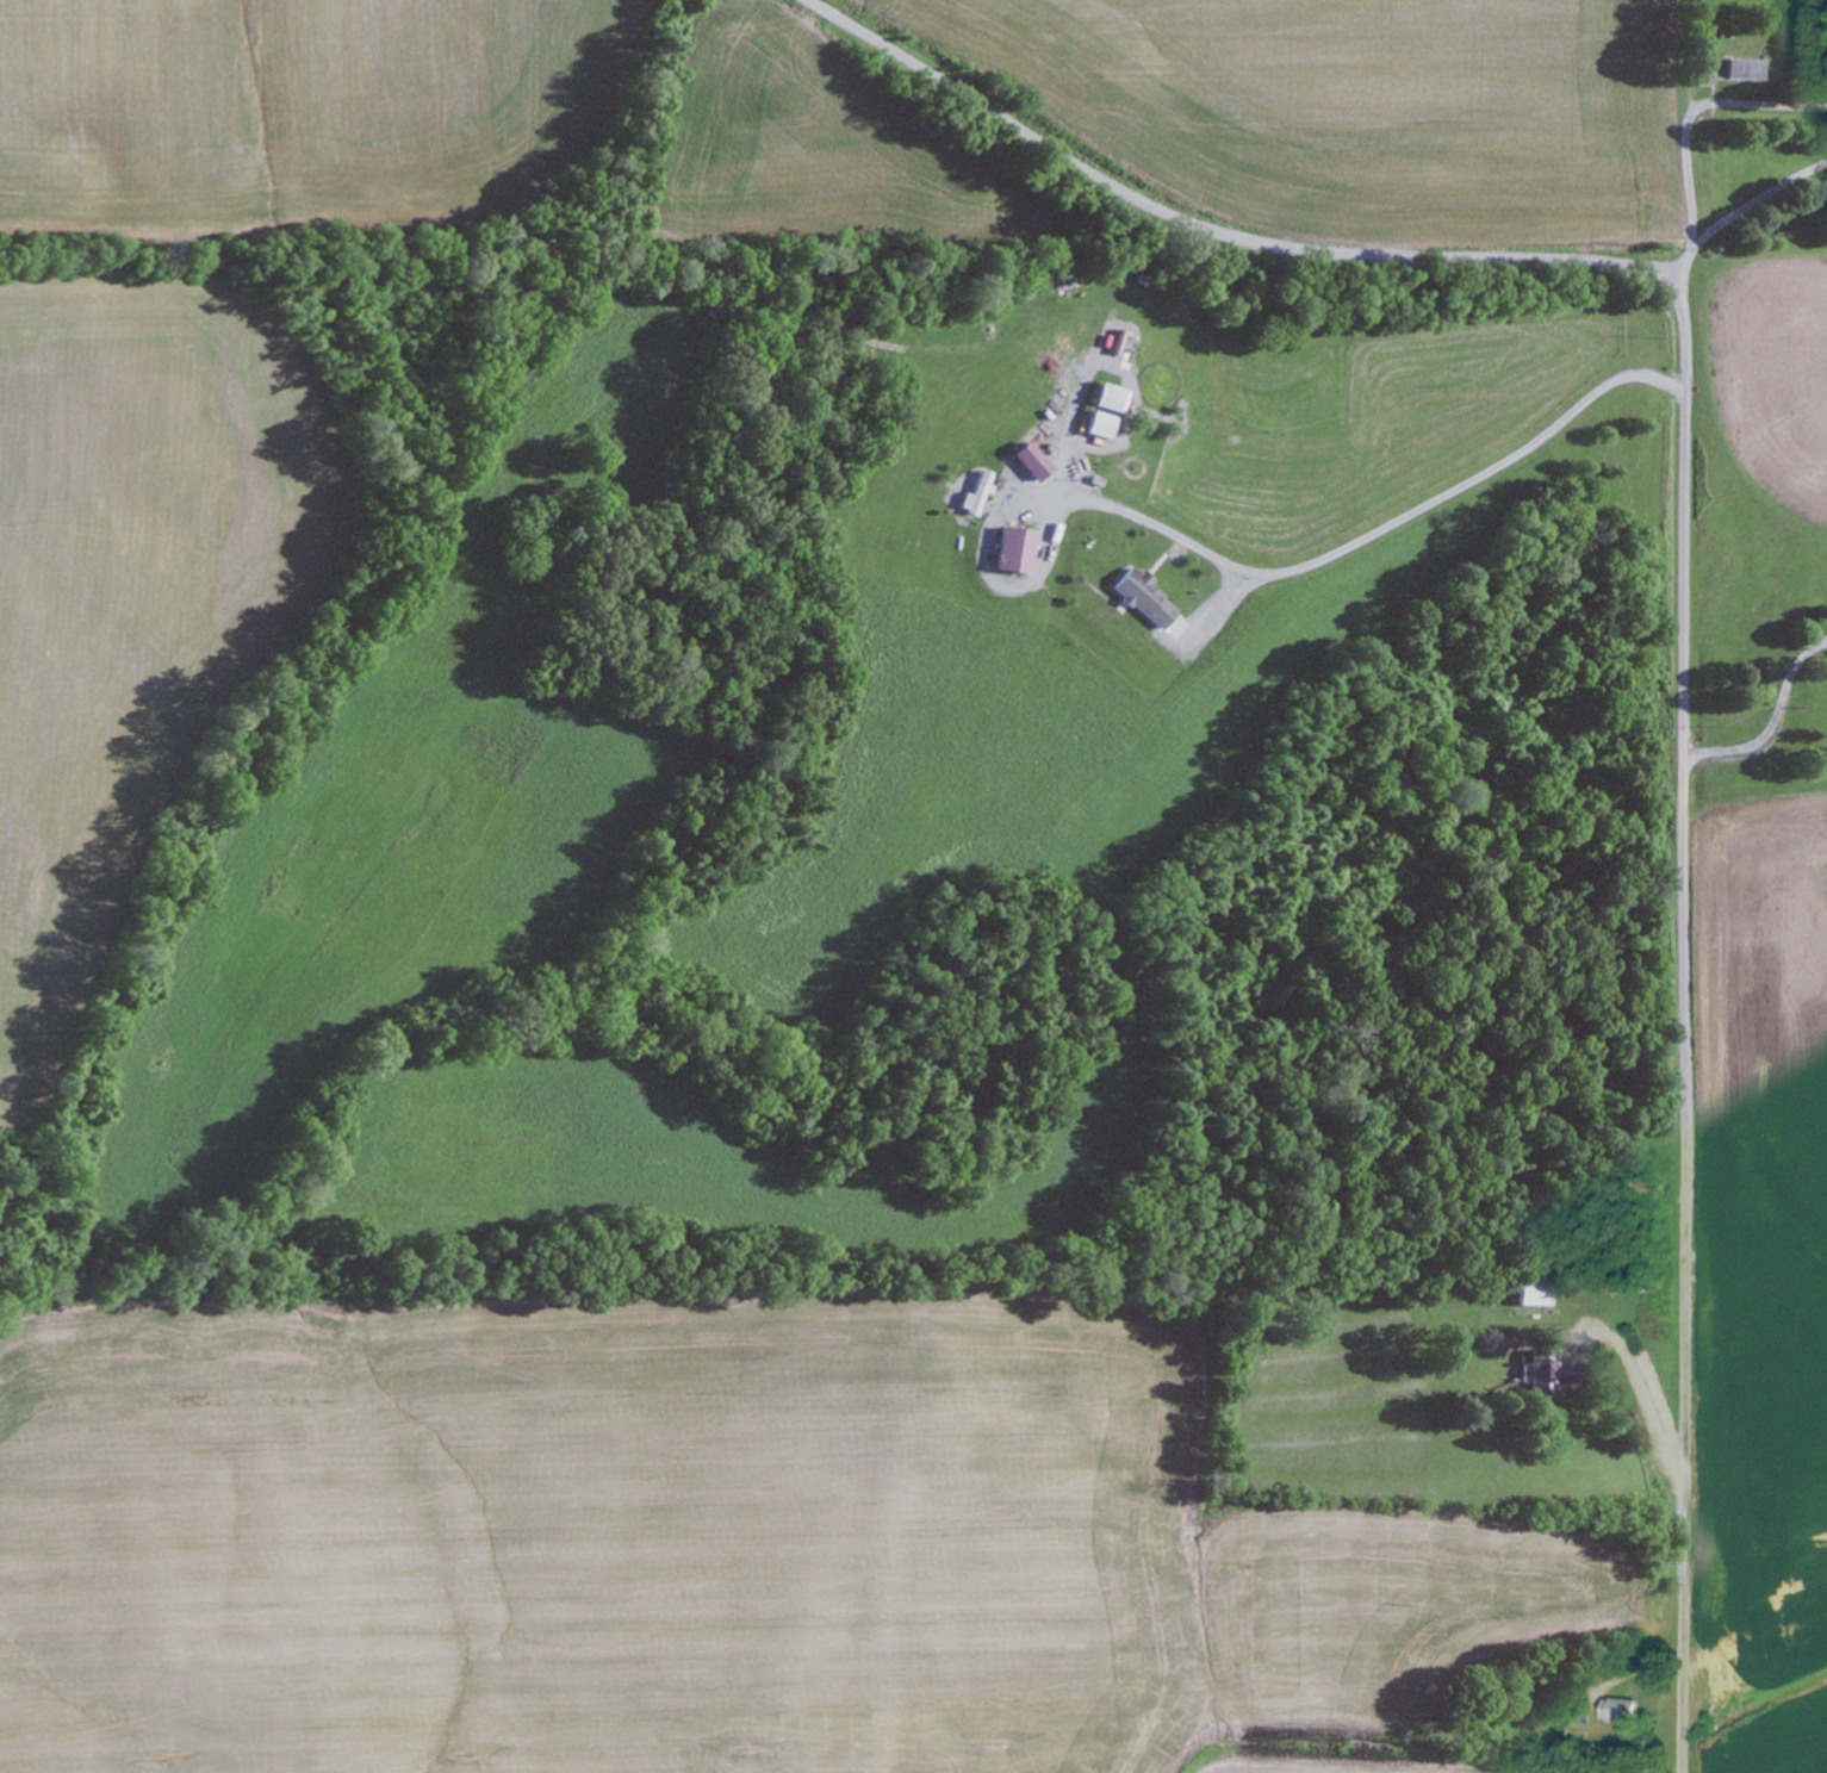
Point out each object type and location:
building: (1744, 70)
road: (1692, 168)
building: (1825, 195)
building: (1100, 398)
building: (1093, 425)
building: (1025, 461)
building: (1008, 550)
road: (1686, 560)
building: (1139, 599)
building: (1529, 1295)
building: (1543, 1375)
building: (1617, 1712)

